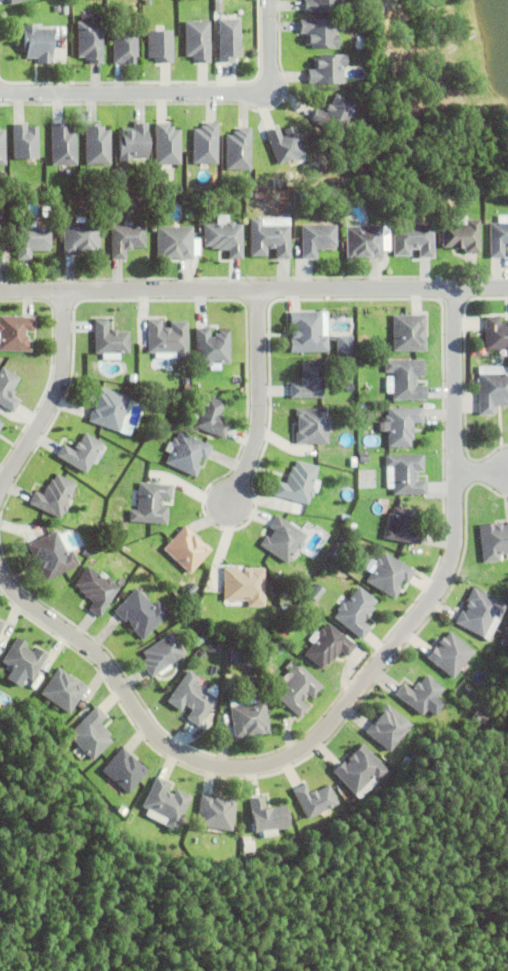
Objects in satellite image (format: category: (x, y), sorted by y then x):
building: (18, 2)
building: (321, 7)
building: (319, 35)
building: (226, 38)
building: (90, 43)
building: (198, 43)
building: (156, 45)
building: (38, 46)
building: (125, 49)
building: (328, 72)
road: (175, 93)
building: (334, 117)
building: (203, 143)
building: (26, 144)
building: (164, 144)
building: (134, 146)
building: (98, 147)
building: (286, 147)
building: (64, 148)
building: (2, 151)
building: (239, 152)
building: (313, 199)
building: (333, 199)
building: (2, 233)
building: (81, 240)
building: (462, 240)
building: (225, 241)
building: (32, 242)
building: (270, 242)
building: (317, 242)
building: (412, 242)
building: (498, 242)
building: (126, 243)
building: (364, 245)
building: (175, 246)
road: (254, 292)
building: (308, 330)
building: (15, 331)
building: (409, 331)
building: (496, 333)
building: (168, 336)
building: (110, 340)
building: (343, 342)
building: (212, 346)
building: (132, 377)
building: (406, 377)
building: (308, 380)
building: (8, 388)
building: (492, 390)
road: (51, 397)
road: (257, 402)
building: (108, 407)
building: (210, 415)
building: (1, 422)
building: (311, 424)
building: (401, 424)
building: (81, 451)
building: (187, 452)
building: (364, 457)
building: (404, 473)
building: (298, 482)
building: (54, 495)
building: (151, 503)
building: (345, 516)
building: (402, 525)
building: (109, 526)
building: (352, 526)
building: (283, 538)
building: (493, 540)
building: (186, 548)
building: (52, 555)
building: (388, 573)
building: (244, 584)
building: (96, 589)
building: (315, 591)
building: (355, 610)
building: (478, 611)
building: (141, 612)
building: (1, 624)
building: (281, 632)
building: (327, 644)
building: (162, 653)
building: (448, 653)
building: (237, 655)
building: (24, 658)
building: (295, 687)
building: (63, 690)
building: (418, 693)
building: (192, 697)
road: (345, 704)
building: (248, 715)
building: (386, 727)
building: (91, 733)
building: (358, 768)
building: (124, 769)
building: (313, 798)
building: (166, 802)
building: (125, 812)
building: (216, 812)
building: (267, 815)

